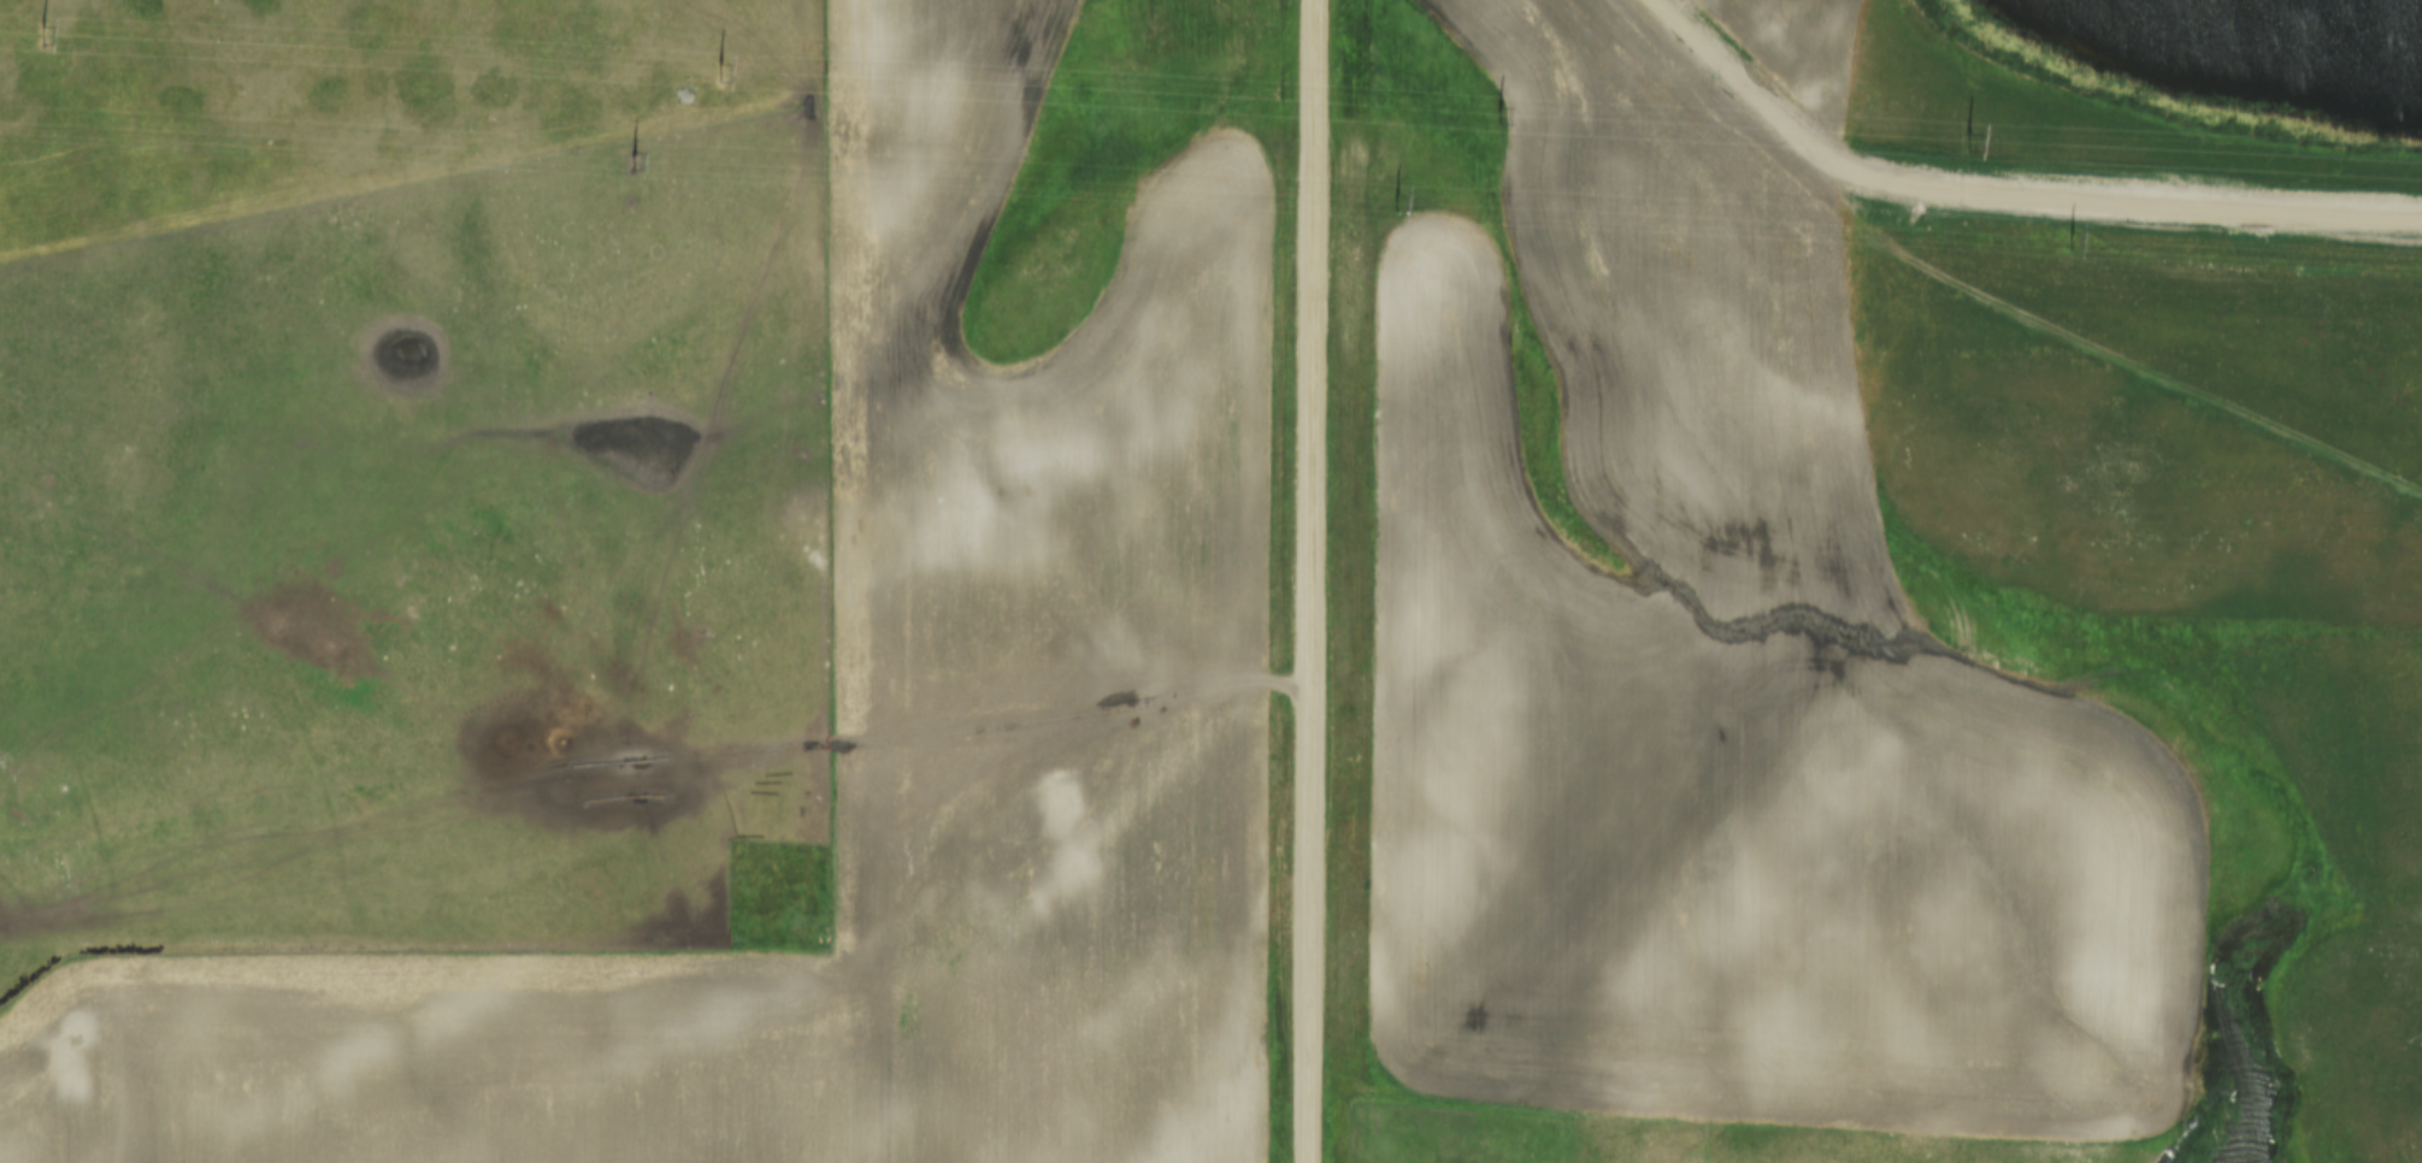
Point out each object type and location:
road: (1762, 129)
power tower: (634, 163)
power tower: (1392, 208)
power tower: (2068, 242)
road: (1312, 581)
road: (688, 939)
building: (60, 1051)

